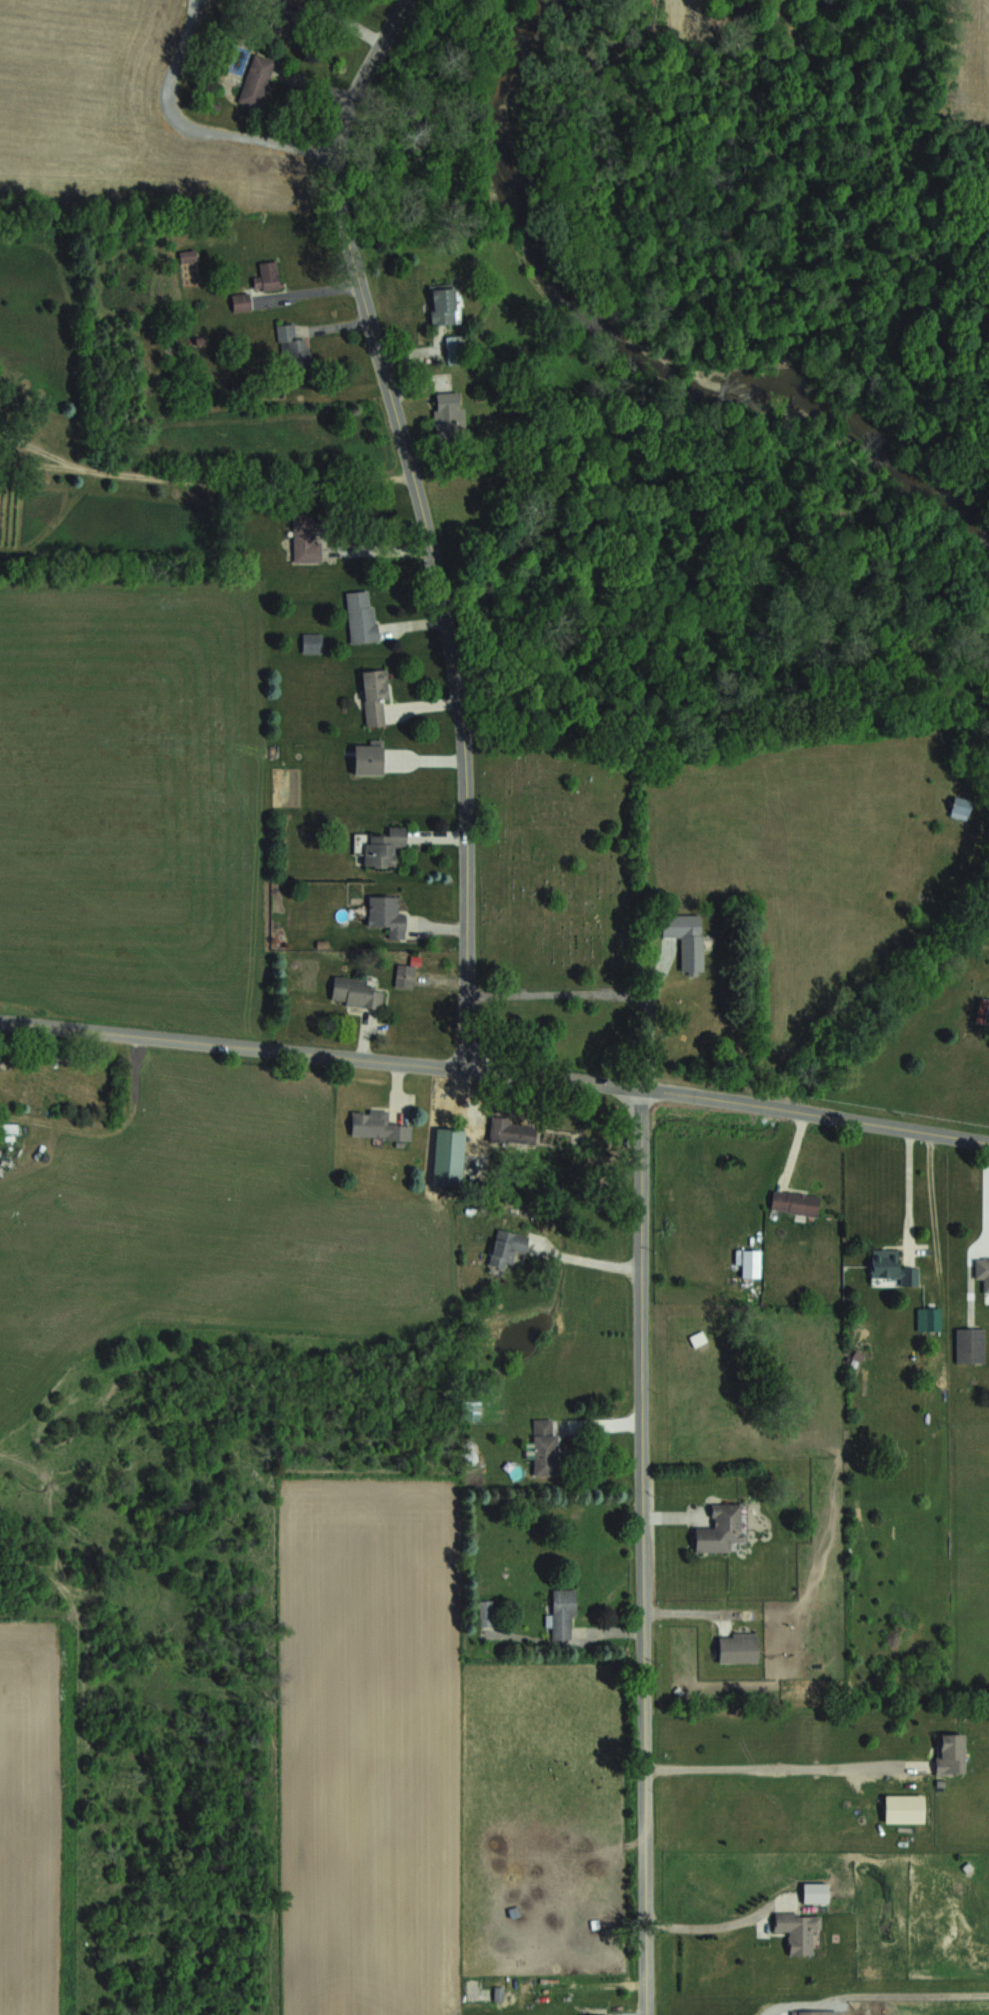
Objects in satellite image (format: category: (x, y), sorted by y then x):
building: (288, 14)
crop: (969, 62)
building: (256, 80)
crop: (113, 118)
road: (195, 129)
building: (187, 255)
building: (267, 277)
building: (241, 301)
building: (443, 306)
river: (633, 346)
building: (292, 348)
building: (456, 350)
building: (448, 415)
road: (43, 449)
road: (43, 466)
road: (249, 481)
road: (424, 523)
building: (305, 537)
road: (379, 551)
building: (361, 616)
building: (312, 642)
building: (374, 696)
building: (367, 759)
crop: (132, 798)
building: (959, 806)
building: (383, 848)
park: (555, 861)
building: (386, 914)
building: (691, 951)
building: (406, 975)
building: (355, 992)
road: (560, 996)
building: (982, 1011)
road: (653, 1030)
road: (495, 1072)
building: (377, 1125)
building: (512, 1131)
building: (448, 1157)
road: (987, 1192)
building: (794, 1201)
building: (506, 1247)
road: (585, 1258)
building: (891, 1266)
building: (982, 1271)
building: (928, 1318)
building: (970, 1344)
building: (544, 1446)
building: (719, 1528)
road: (642, 1551)
building: (487, 1613)
building: (562, 1613)
building: (737, 1646)
building: (949, 1753)
road: (766, 1767)
building: (903, 1808)
road: (711, 1925)
building: (797, 1929)
building: (807, 2012)
building: (594, 2014)

